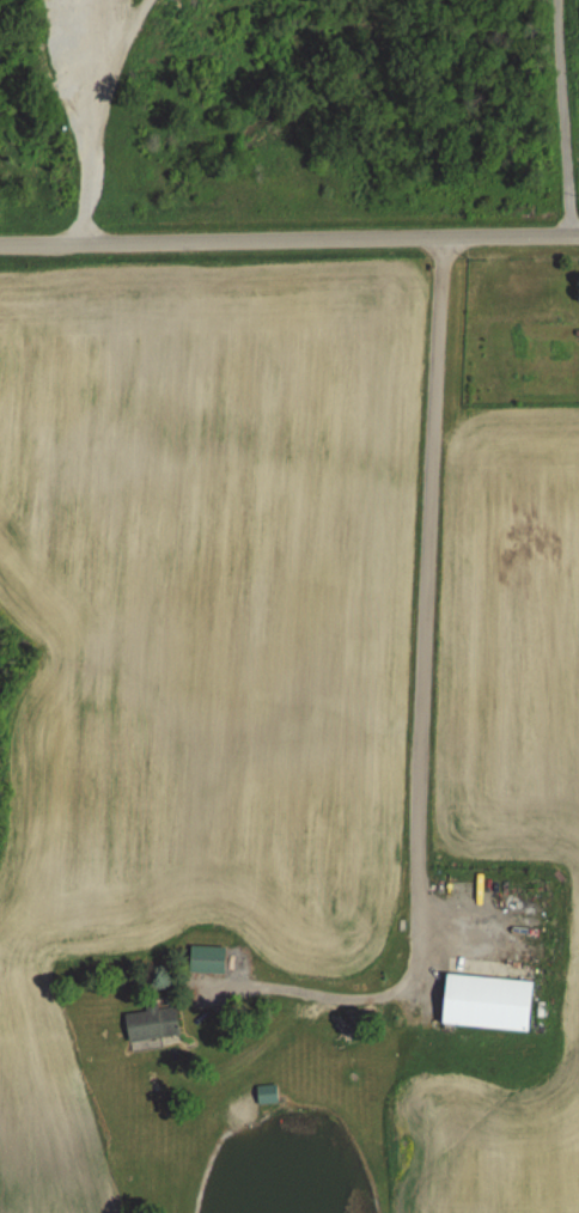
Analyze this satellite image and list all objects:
road: (289, 240)
road: (420, 709)
building: (206, 958)
building: (486, 1001)
building: (151, 1023)
building: (266, 1095)

